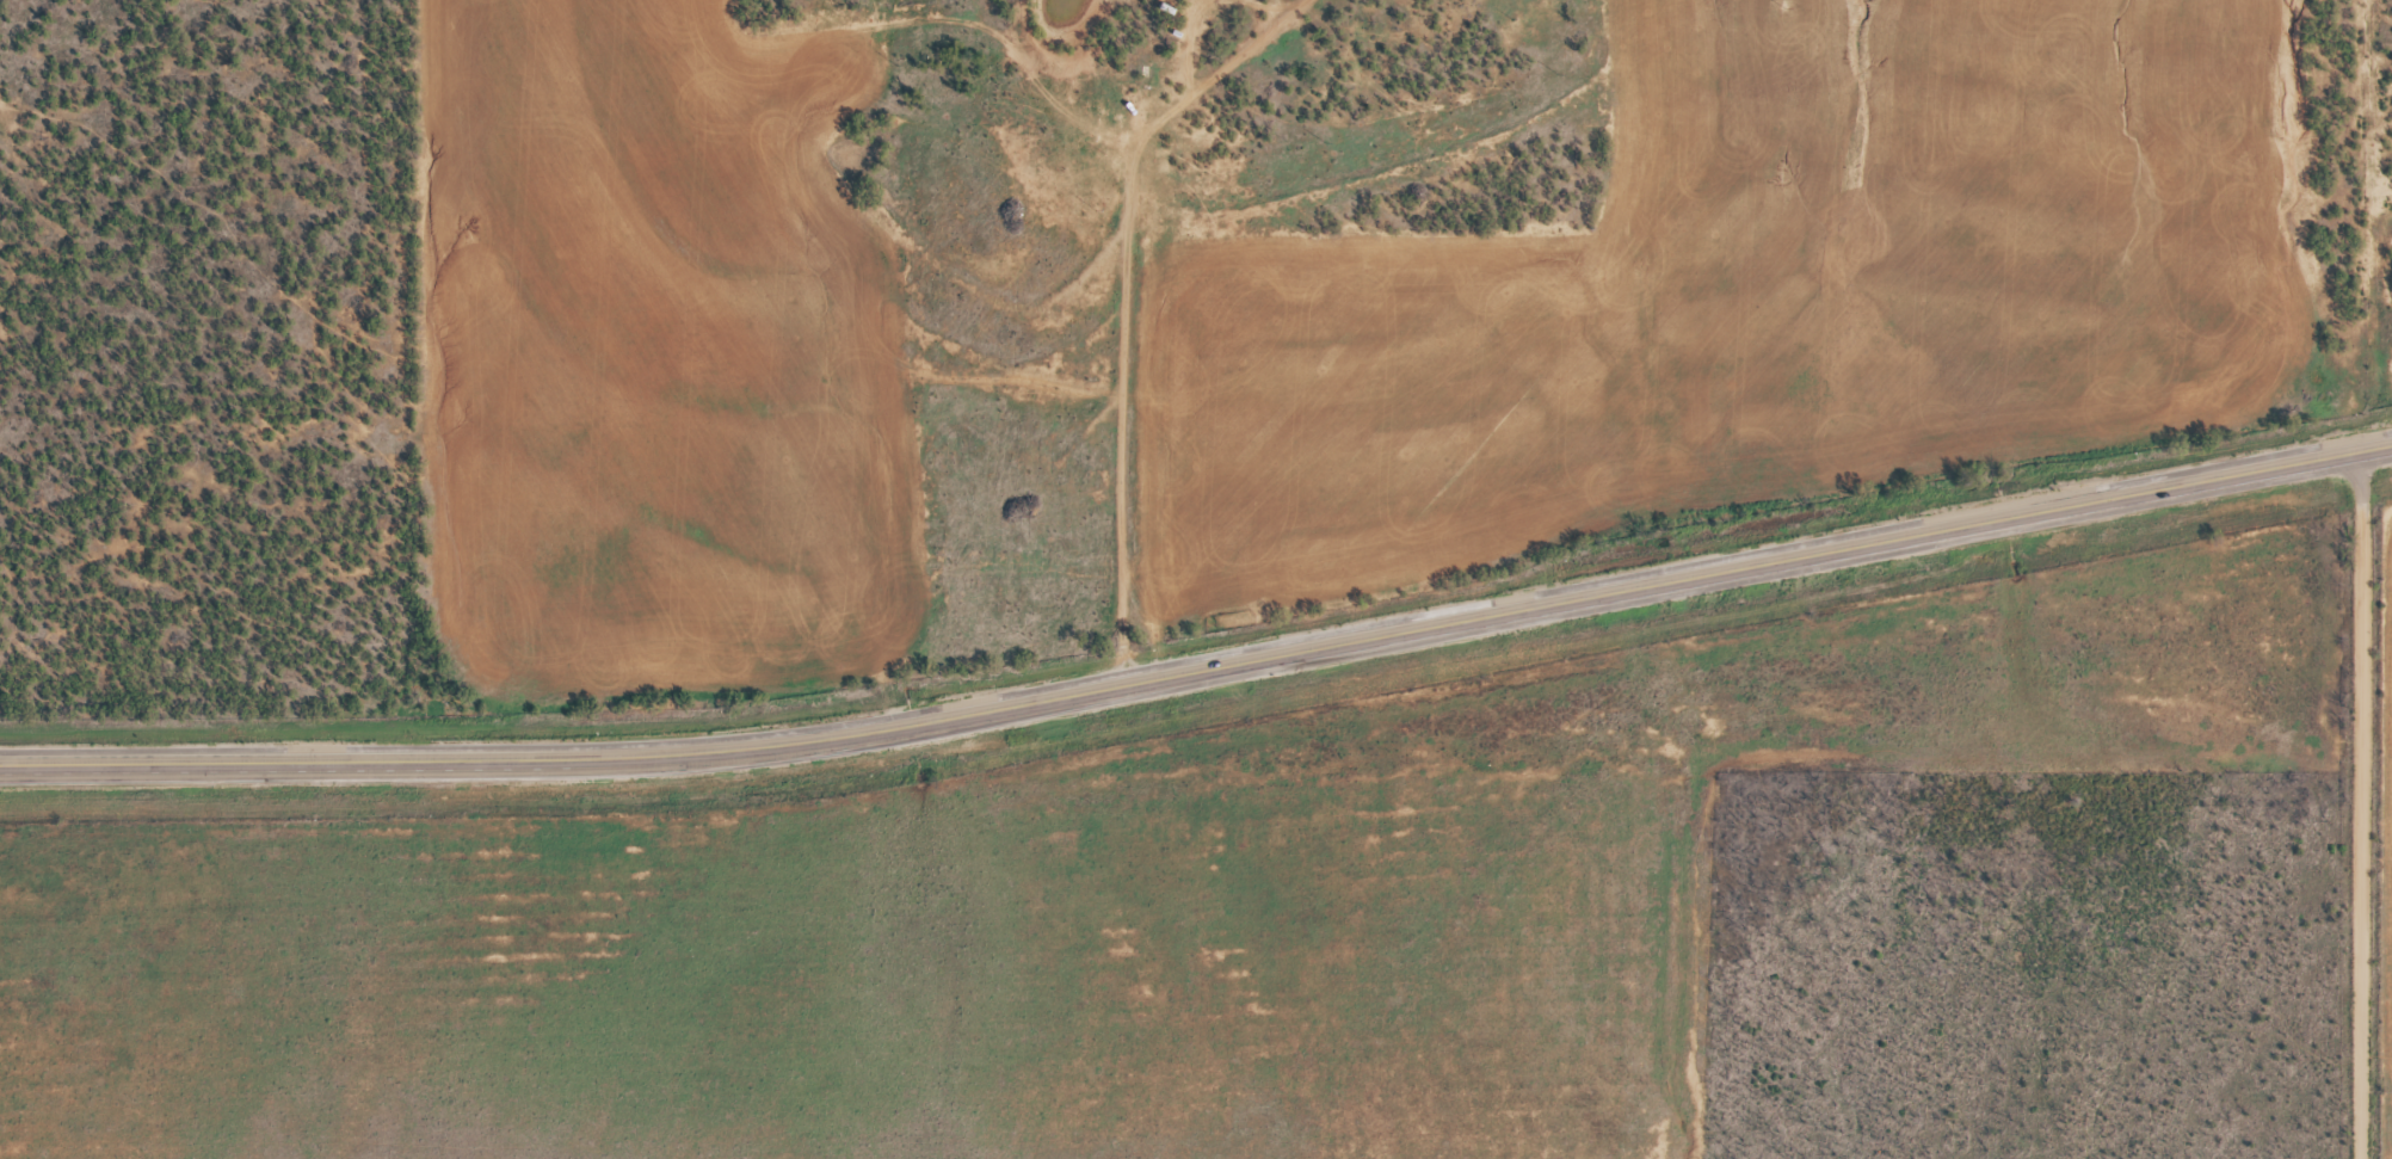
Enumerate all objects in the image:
road: (1115, 301)
road: (1482, 610)
road: (286, 762)
road: (2356, 806)

